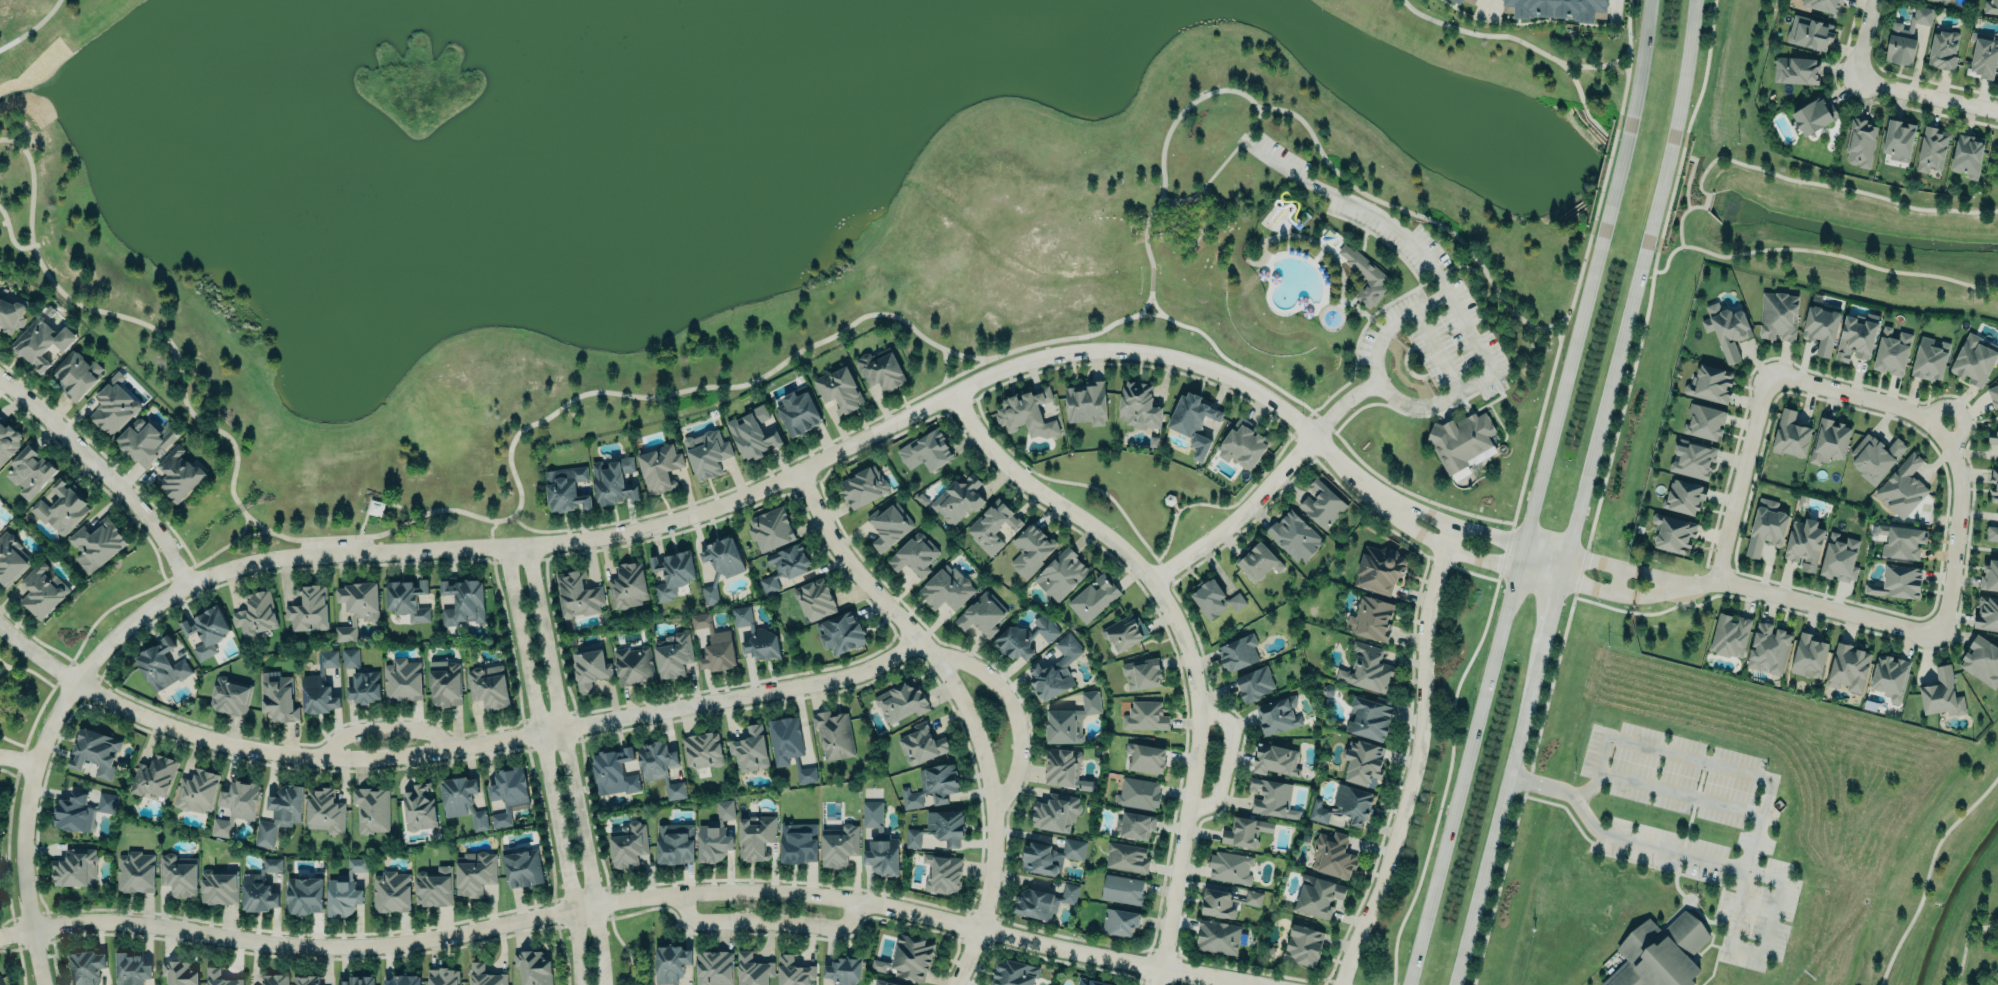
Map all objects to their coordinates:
building: (1477, 0)
building: (1946, 0)
building: (1456, 1)
building: (1469, 1)
road: (1490, 1)
building: (1824, 6)
building: (1990, 7)
building: (1557, 8)
road: (30, 27)
building: (1809, 32)
building: (1904, 37)
road: (1517, 39)
road: (1867, 40)
building: (1943, 50)
building: (1982, 56)
road: (1622, 66)
building: (1796, 70)
road: (1927, 96)
road: (1582, 100)
building: (1813, 116)
road: (1302, 121)
road: (1622, 122)
road: (1997, 127)
building: (1898, 140)
building: (1860, 143)
building: (1930, 149)
building: (1967, 155)
parking lot: (1280, 157)
road: (1218, 167)
road: (1688, 181)
road: (1797, 181)
park: (786, 218)
road: (1393, 227)
road: (1596, 228)
parking lot: (1392, 237)
road: (11, 239)
road: (1378, 239)
road: (1819, 253)
water park: (1308, 265)
building: (1364, 275)
road: (1143, 309)
building: (11, 313)
building: (1778, 315)
building: (1821, 326)
road: (1380, 328)
building: (1726, 329)
road: (1553, 331)
parking lot: (1449, 336)
building: (1855, 336)
building: (42, 340)
parking lot: (1365, 347)
building: (1892, 349)
road: (1436, 352)
building: (1975, 358)
building: (1930, 359)
road: (945, 366)
building: (880, 369)
road: (1406, 370)
building: (76, 371)
building: (1710, 382)
road: (1377, 383)
road: (1859, 383)
building: (839, 389)
road: (1429, 391)
road: (623, 393)
building: (1994, 394)
road: (1951, 397)
building: (1087, 402)
building: (1138, 404)
building: (112, 405)
road: (1344, 405)
road: (1482, 407)
road: (1314, 409)
building: (1027, 411)
building: (1997, 411)
building: (797, 414)
road: (1401, 414)
building: (1192, 418)
road: (1965, 418)
building: (1704, 422)
road: (1500, 427)
building: (752, 431)
building: (1790, 435)
building: (145, 438)
building: (1993, 438)
building: (8, 439)
building: (1829, 440)
building: (1243, 442)
building: (1462, 442)
building: (925, 450)
building: (707, 452)
building: (1875, 456)
road: (1339, 457)
building: (1693, 458)
building: (660, 466)
building: (29, 471)
road: (105, 471)
building: (175, 474)
road: (1737, 474)
road: (756, 477)
building: (614, 480)
road: (1063, 482)
building: (863, 485)
building: (566, 486)
building: (1903, 487)
building: (1994, 487)
road: (1581, 493)
road: (1600, 493)
road: (1536, 494)
road: (1518, 495)
building: (1684, 497)
building: (957, 498)
building: (1322, 502)
building: (61, 506)
road: (400, 506)
road: (1242, 515)
road: (362, 524)
building: (888, 524)
road: (240, 525)
road: (1461, 525)
building: (1766, 525)
building: (993, 526)
building: (771, 528)
road: (1957, 529)
road: (1389, 531)
building: (1673, 531)
building: (1992, 532)
road: (489, 533)
street lamp: (446, 536)
building: (1294, 536)
road: (1432, 540)
building: (1901, 540)
parking lot: (334, 542)
road: (545, 543)
building: (96, 544)
building: (1804, 544)
road: (221, 546)
road: (1976, 547)
building: (1031, 548)
building: (914, 554)
building: (1839, 556)
building: (8, 560)
road: (1608, 561)
building: (1258, 562)
building: (720, 563)
road: (363, 565)
building: (784, 565)
building: (1379, 570)
building: (672, 572)
building: (1060, 574)
building: (1990, 574)
road: (1678, 578)
building: (1897, 582)
building: (628, 585)
building: (946, 587)
building: (35, 588)
road: (1580, 588)
road: (1675, 590)
building: (577, 594)
building: (1094, 596)
building: (815, 597)
building: (407, 598)
building: (1214, 599)
building: (464, 600)
building: (357, 605)
building: (309, 608)
building: (1987, 612)
building: (982, 613)
building: (255, 614)
road: (1824, 614)
building: (1371, 617)
building: (205, 630)
building: (1125, 630)
building: (842, 632)
building: (1730, 634)
building: (756, 636)
building: (1023, 637)
road: (1185, 642)
building: (714, 643)
building: (1769, 647)
building: (1238, 651)
building: (673, 654)
building: (1809, 654)
building: (349, 658)
building: (1981, 661)
building: (161, 663)
road: (5, 664)
building: (634, 664)
building: (1367, 667)
building: (1848, 667)
building: (589, 669)
building: (1056, 669)
road: (28, 670)
building: (1141, 672)
building: (1890, 676)
building: (402, 680)
building: (445, 682)
building: (1255, 683)
building: (320, 685)
building: (489, 685)
building: (364, 686)
building: (1942, 692)
building: (229, 697)
building: (277, 697)
park: (22, 698)
building: (901, 701)
road: (965, 705)
road: (1013, 709)
road: (16, 712)
street lamp: (45, 713)
building: (1278, 714)
building: (1145, 715)
building: (1370, 716)
building: (1071, 718)
road: (379, 729)
building: (834, 734)
road: (11, 741)
building: (921, 743)
road: (24, 745)
building: (789, 745)
building: (703, 748)
road: (450, 749)
building: (749, 749)
building: (96, 751)
building: (1145, 757)
road: (16, 758)
building: (1275, 758)
road: (1418, 759)
building: (655, 760)
road: (1224, 760)
building: (1364, 762)
road: (569, 764)
road: (527, 765)
road: (545, 765)
building: (1062, 766)
building: (613, 771)
road: (582, 774)
building: (150, 776)
building: (932, 785)
building: (196, 790)
building: (674, 790)
building: (507, 791)
road: (1679, 792)
building: (1138, 793)
building: (462, 798)
building: (1271, 798)
building: (286, 804)
building: (1345, 804)
building: (236, 805)
building: (419, 806)
building: (372, 808)
building: (81, 809)
building: (325, 809)
building: (1055, 811)
building: (1135, 824)
building: (938, 827)
building: (1245, 830)
building: (716, 833)
building: (755, 836)
building: (879, 842)
building: (674, 843)
building: (798, 843)
building: (629, 845)
building: (840, 846)
building: (1050, 855)
building: (1332, 855)
building: (1126, 856)
building: (1229, 866)
building: (522, 867)
building: (75, 868)
building: (136, 871)
building: (941, 872)
building: (474, 873)
road: (1929, 873)
building: (179, 874)
building: (260, 886)
building: (434, 886)
building: (218, 887)
building: (345, 889)
building: (1122, 889)
building: (386, 891)
building: (304, 894)
building: (1318, 894)
building: (1252, 898)
building: (1043, 900)
road: (613, 903)
building: (1217, 903)
road: (1771, 916)
building: (1119, 920)
road: (768, 922)
road: (1989, 932)
building: (1217, 936)
road: (1965, 942)
building: (1303, 943)
building: (1662, 953)
building: (911, 956)
building: (669, 961)
building: (82, 965)
building: (533, 967)
building: (715, 967)
building: (132, 968)
building: (753, 970)
building: (844, 970)
building: (795, 971)
building: (179, 972)
building: (1013, 973)
building: (485, 975)
building: (443, 976)
building: (220, 977)
building: (403, 978)
building: (274, 979)
building: (305, 980)
building: (355, 980)
building: (1091, 981)
building: (0, 982)
building: (884, 982)
road: (1228, 983)
road: (1238, 983)

